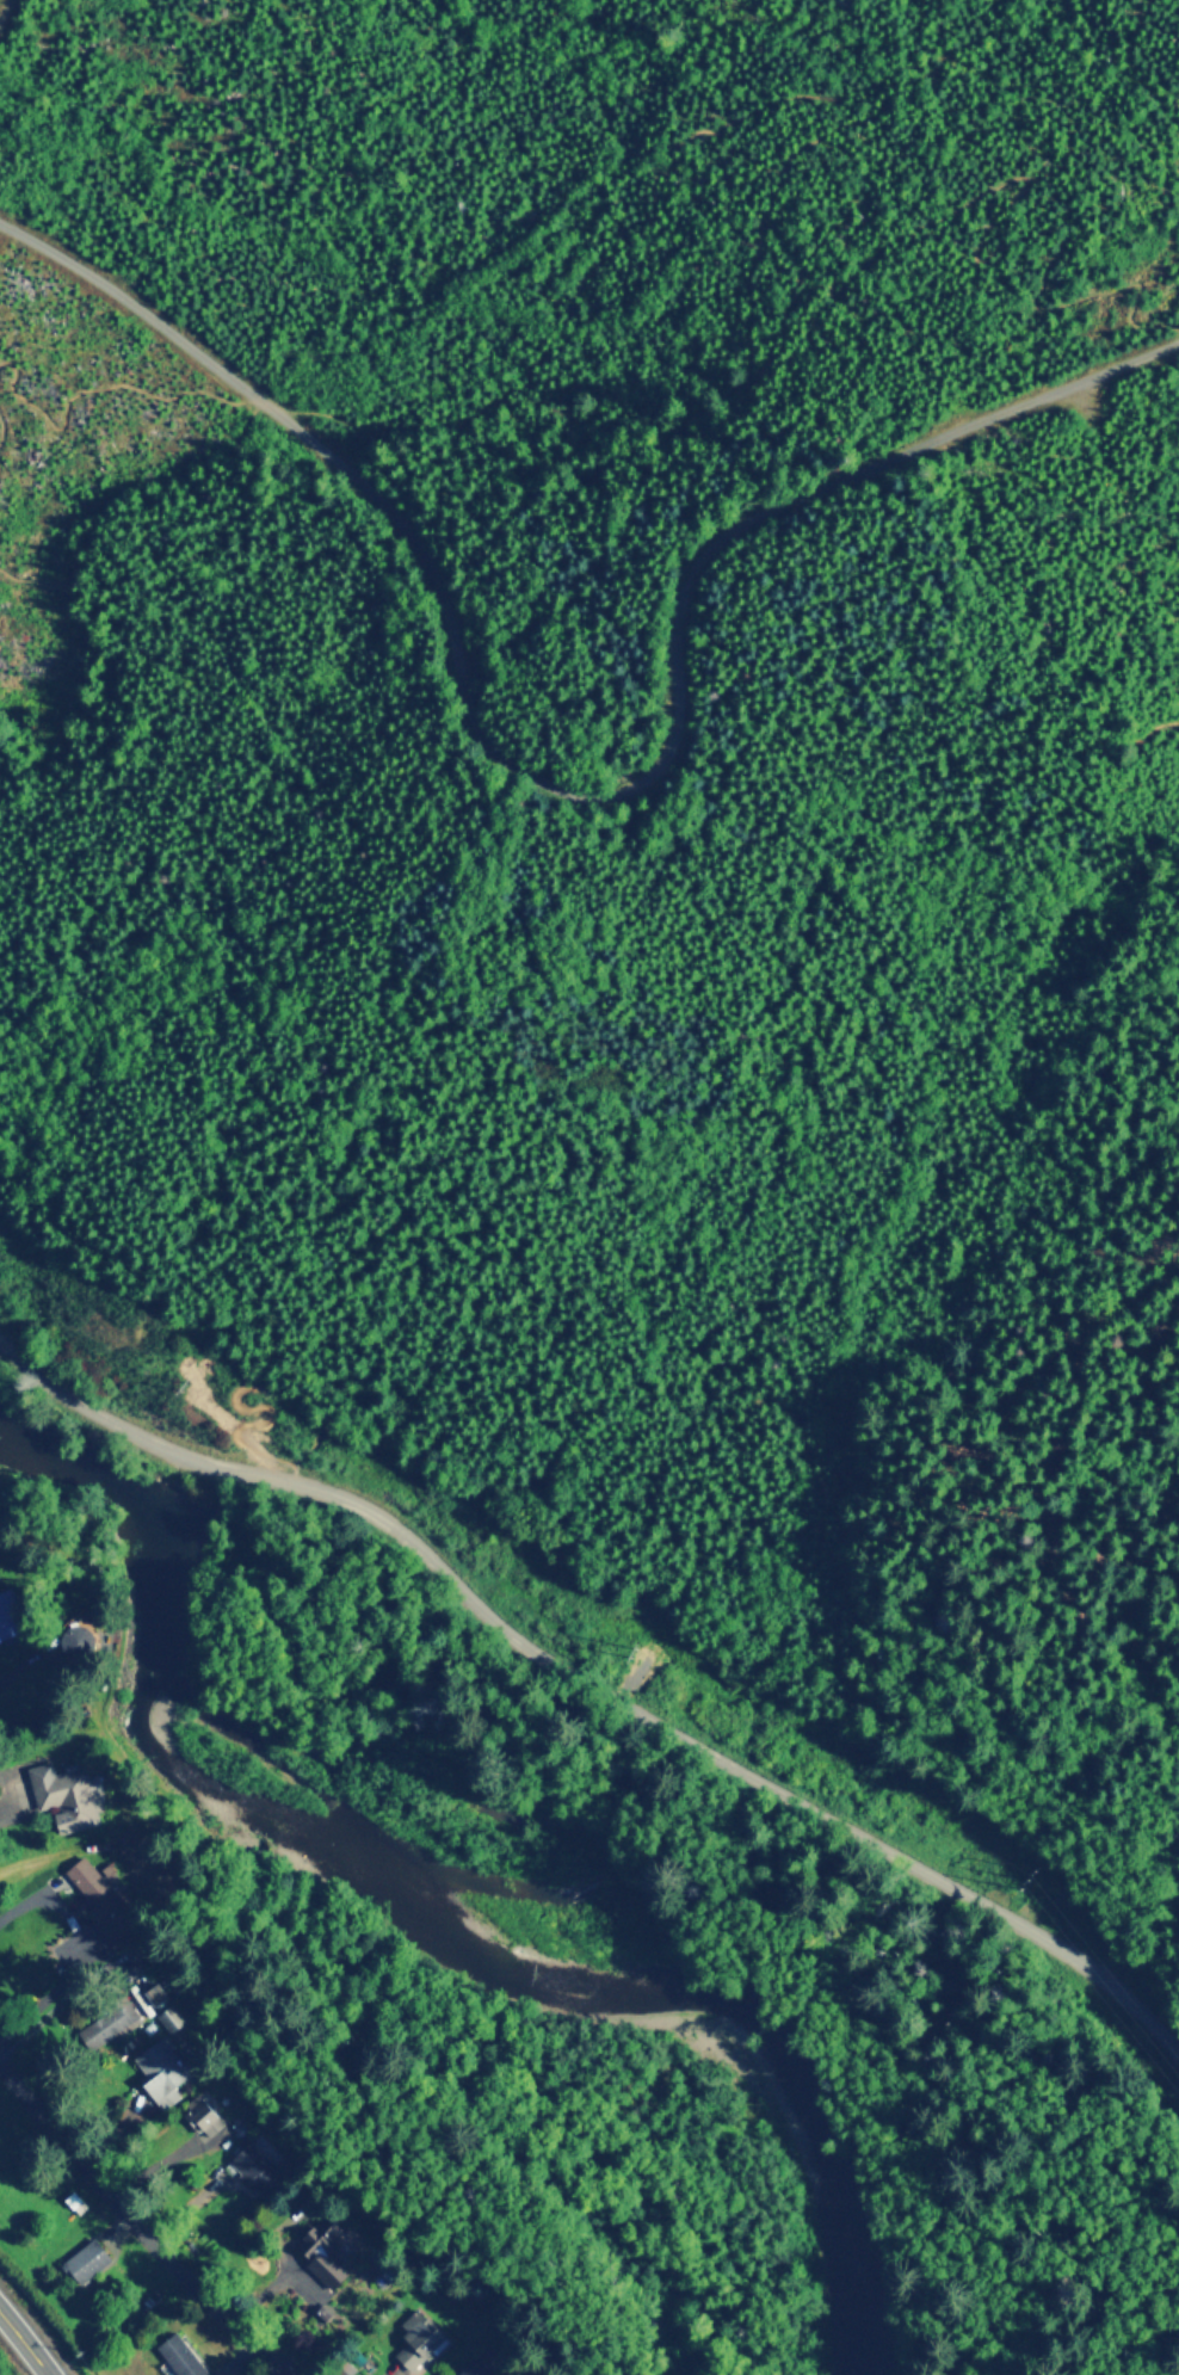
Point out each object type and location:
road: (4, 6)
road: (924, 90)
road: (4, 432)
road: (570, 804)
road: (418, 1054)
road: (490, 1224)
building: (8, 1614)
building: (75, 1640)
road: (41, 1664)
road: (598, 1683)
building: (63, 1793)
river: (440, 1890)
building: (165, 2005)
building: (107, 2022)
building: (160, 2071)
building: (200, 2112)
building: (251, 2164)
road: (137, 2222)
building: (322, 2248)
building: (85, 2259)
building: (418, 2338)
road: (23, 2344)
building: (180, 2355)
building: (344, 2368)
building: (479, 2370)

